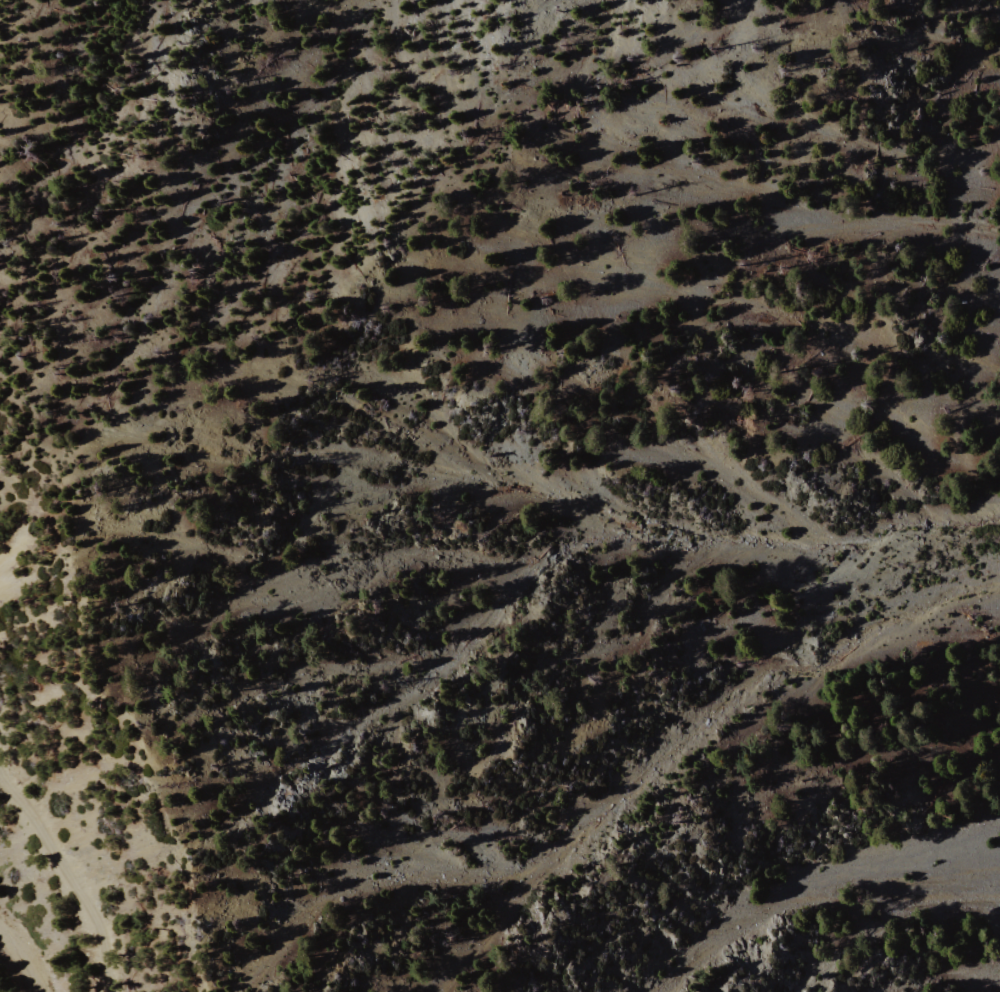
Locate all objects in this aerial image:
road: (68, 874)
ski resort: (53, 880)

